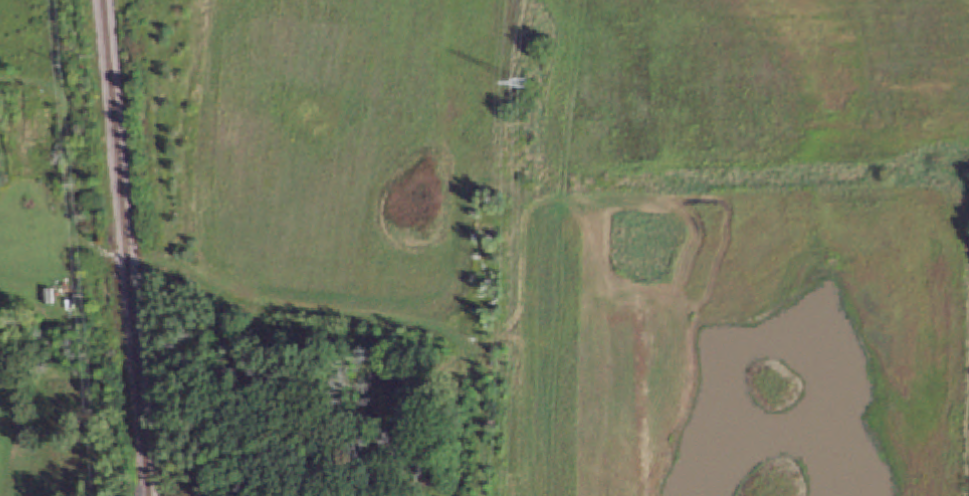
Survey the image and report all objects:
crop: (598, 221)
railway: (124, 247)
building: (22, 296)

